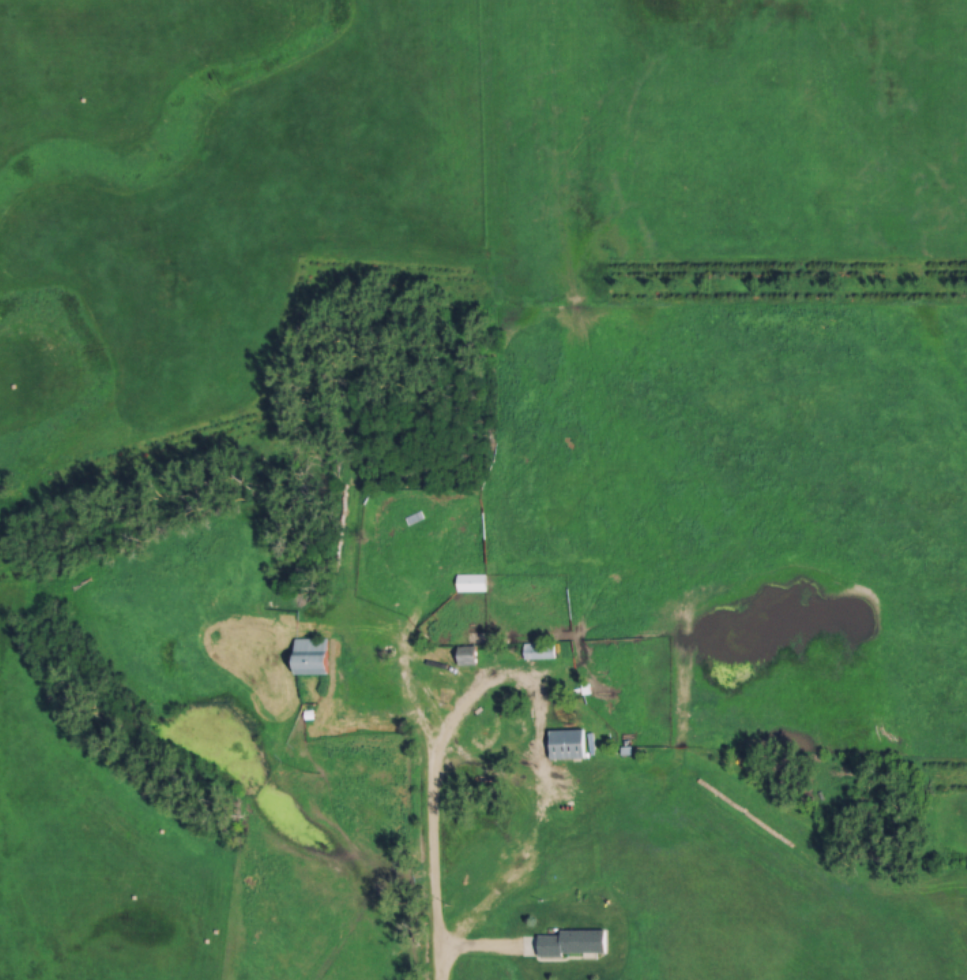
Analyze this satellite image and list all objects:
building: (469, 583)
building: (537, 652)
building: (464, 656)
building: (308, 657)
building: (483, 724)
building: (564, 745)
road: (435, 849)
building: (569, 943)

